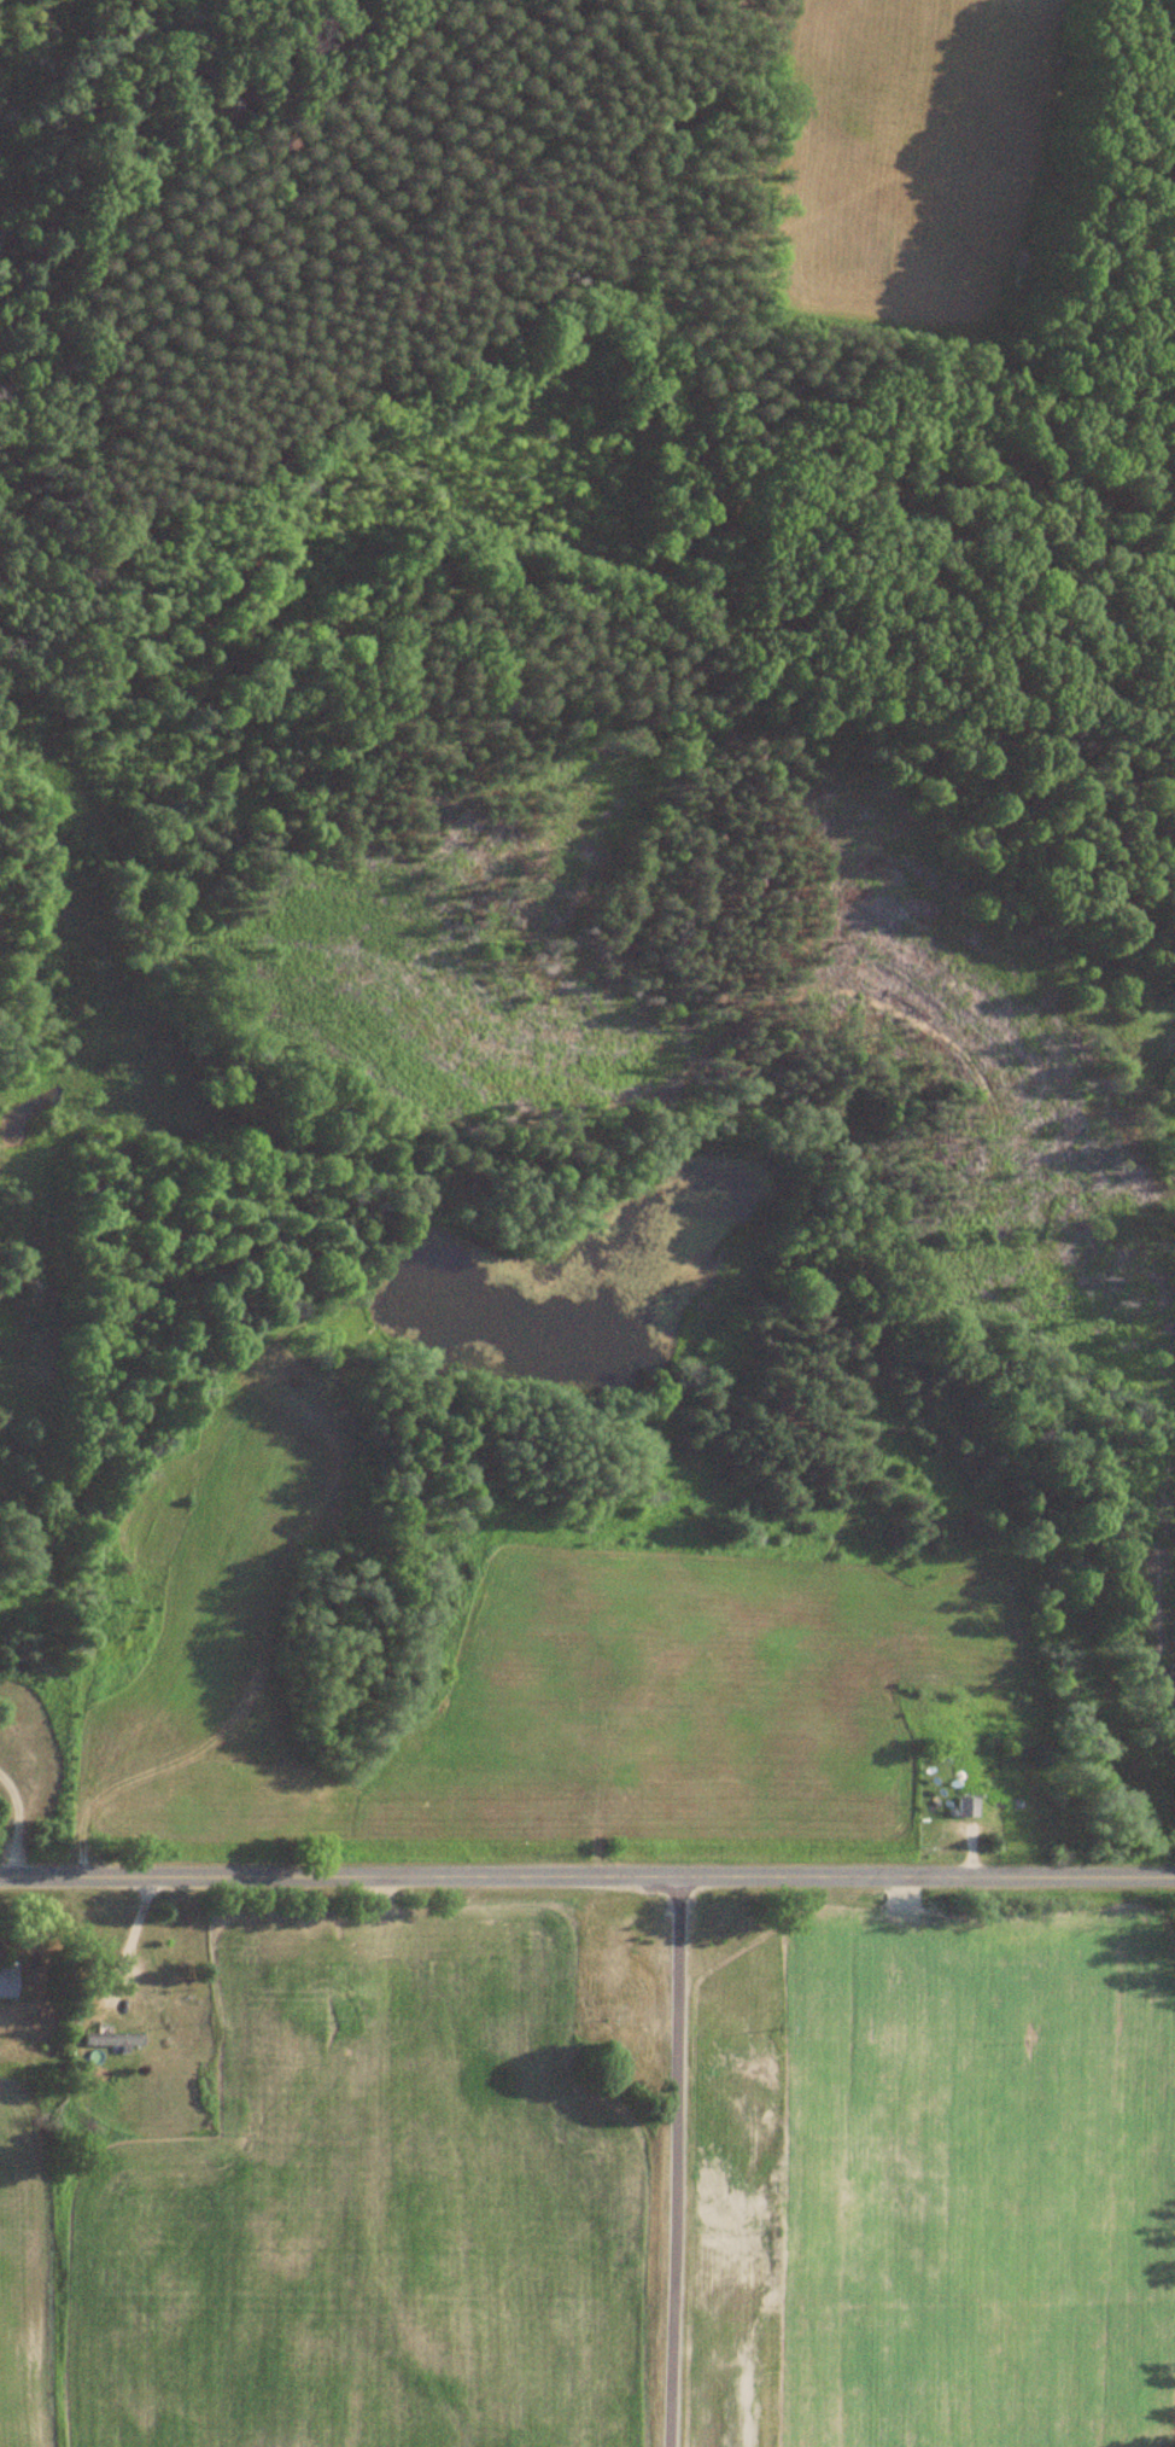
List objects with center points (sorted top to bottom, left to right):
building: (969, 1807)
road: (587, 1877)
building: (8, 1977)
building: (642, 1987)
building: (116, 2039)
building: (718, 2134)

